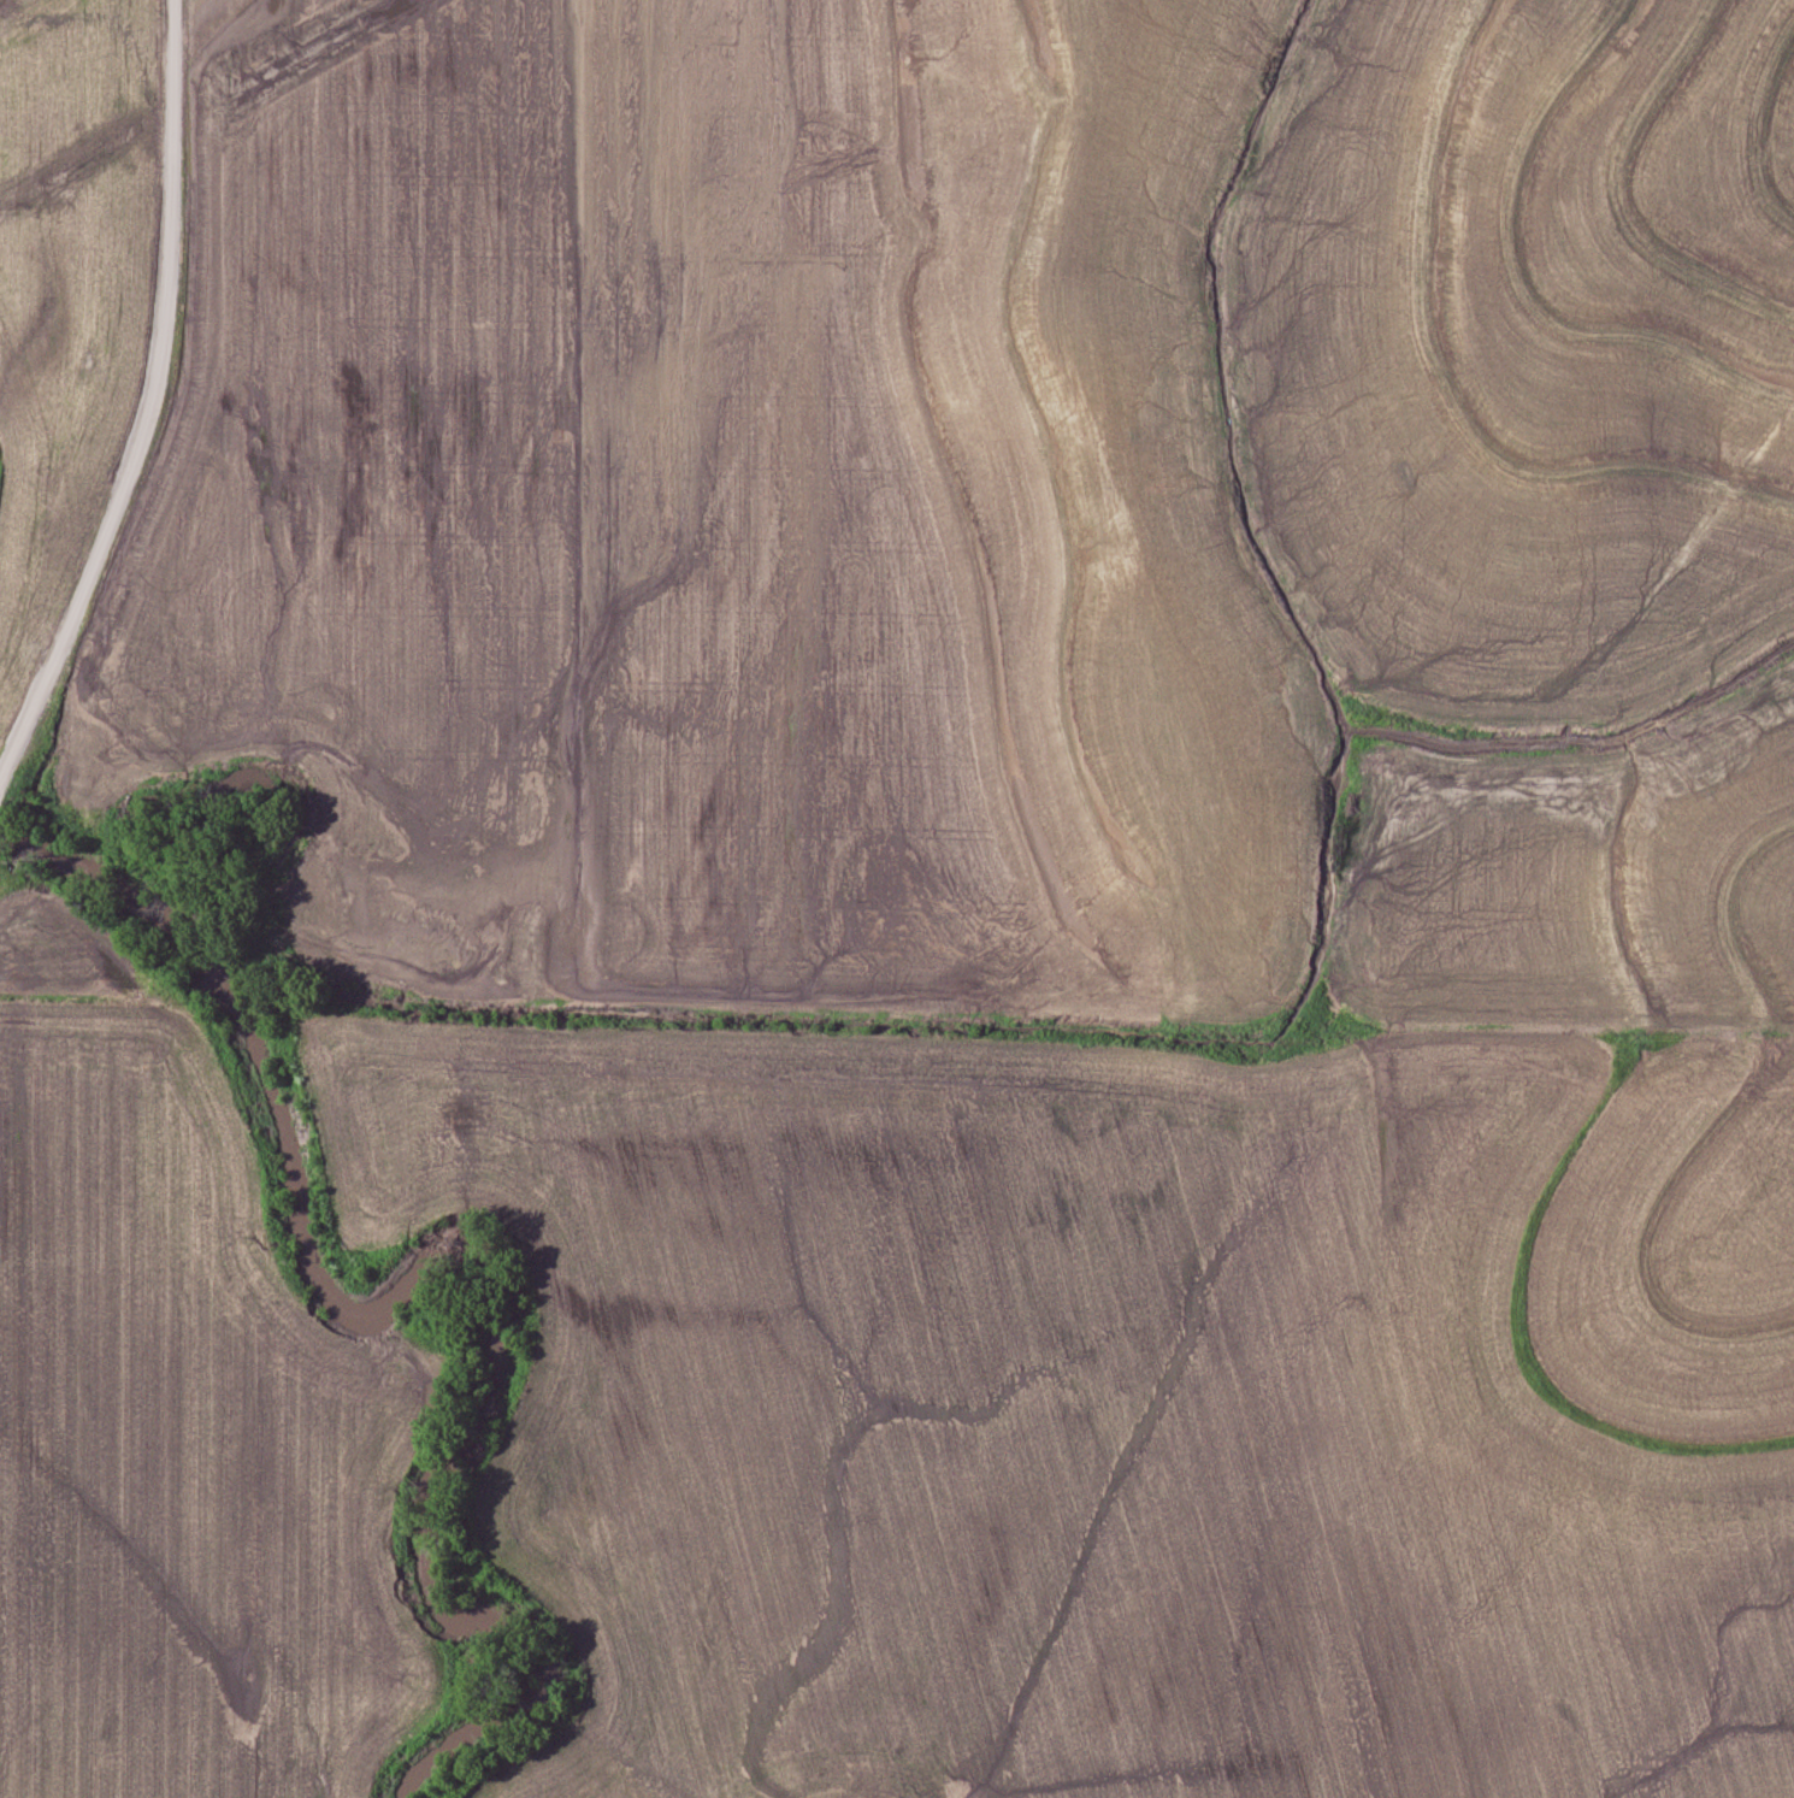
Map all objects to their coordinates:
road: (153, 403)

